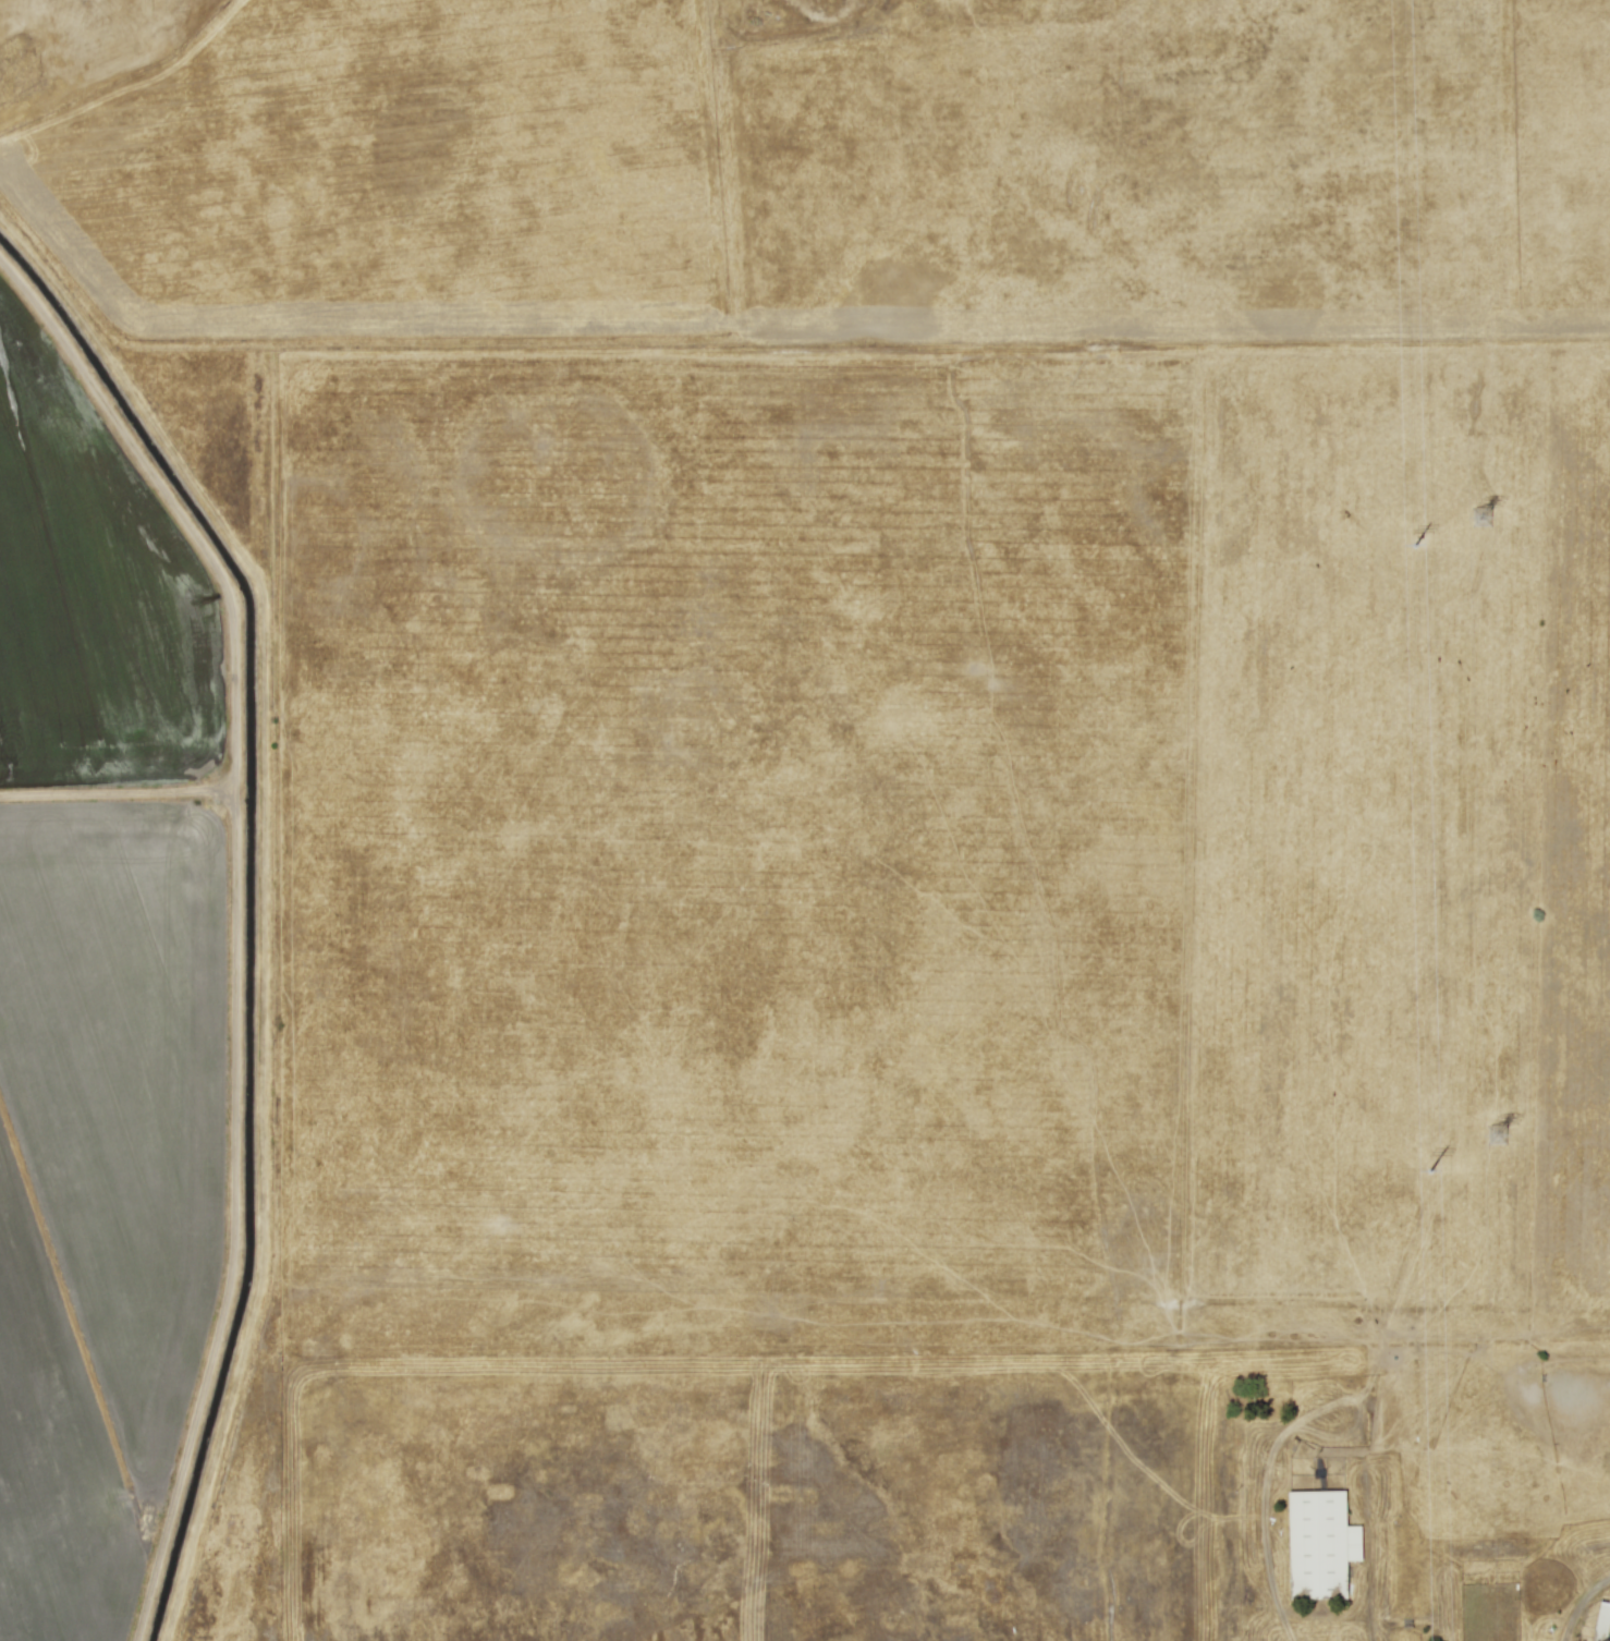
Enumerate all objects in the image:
power tower: (1484, 521)
power tower: (1499, 1139)
building: (1318, 1543)

